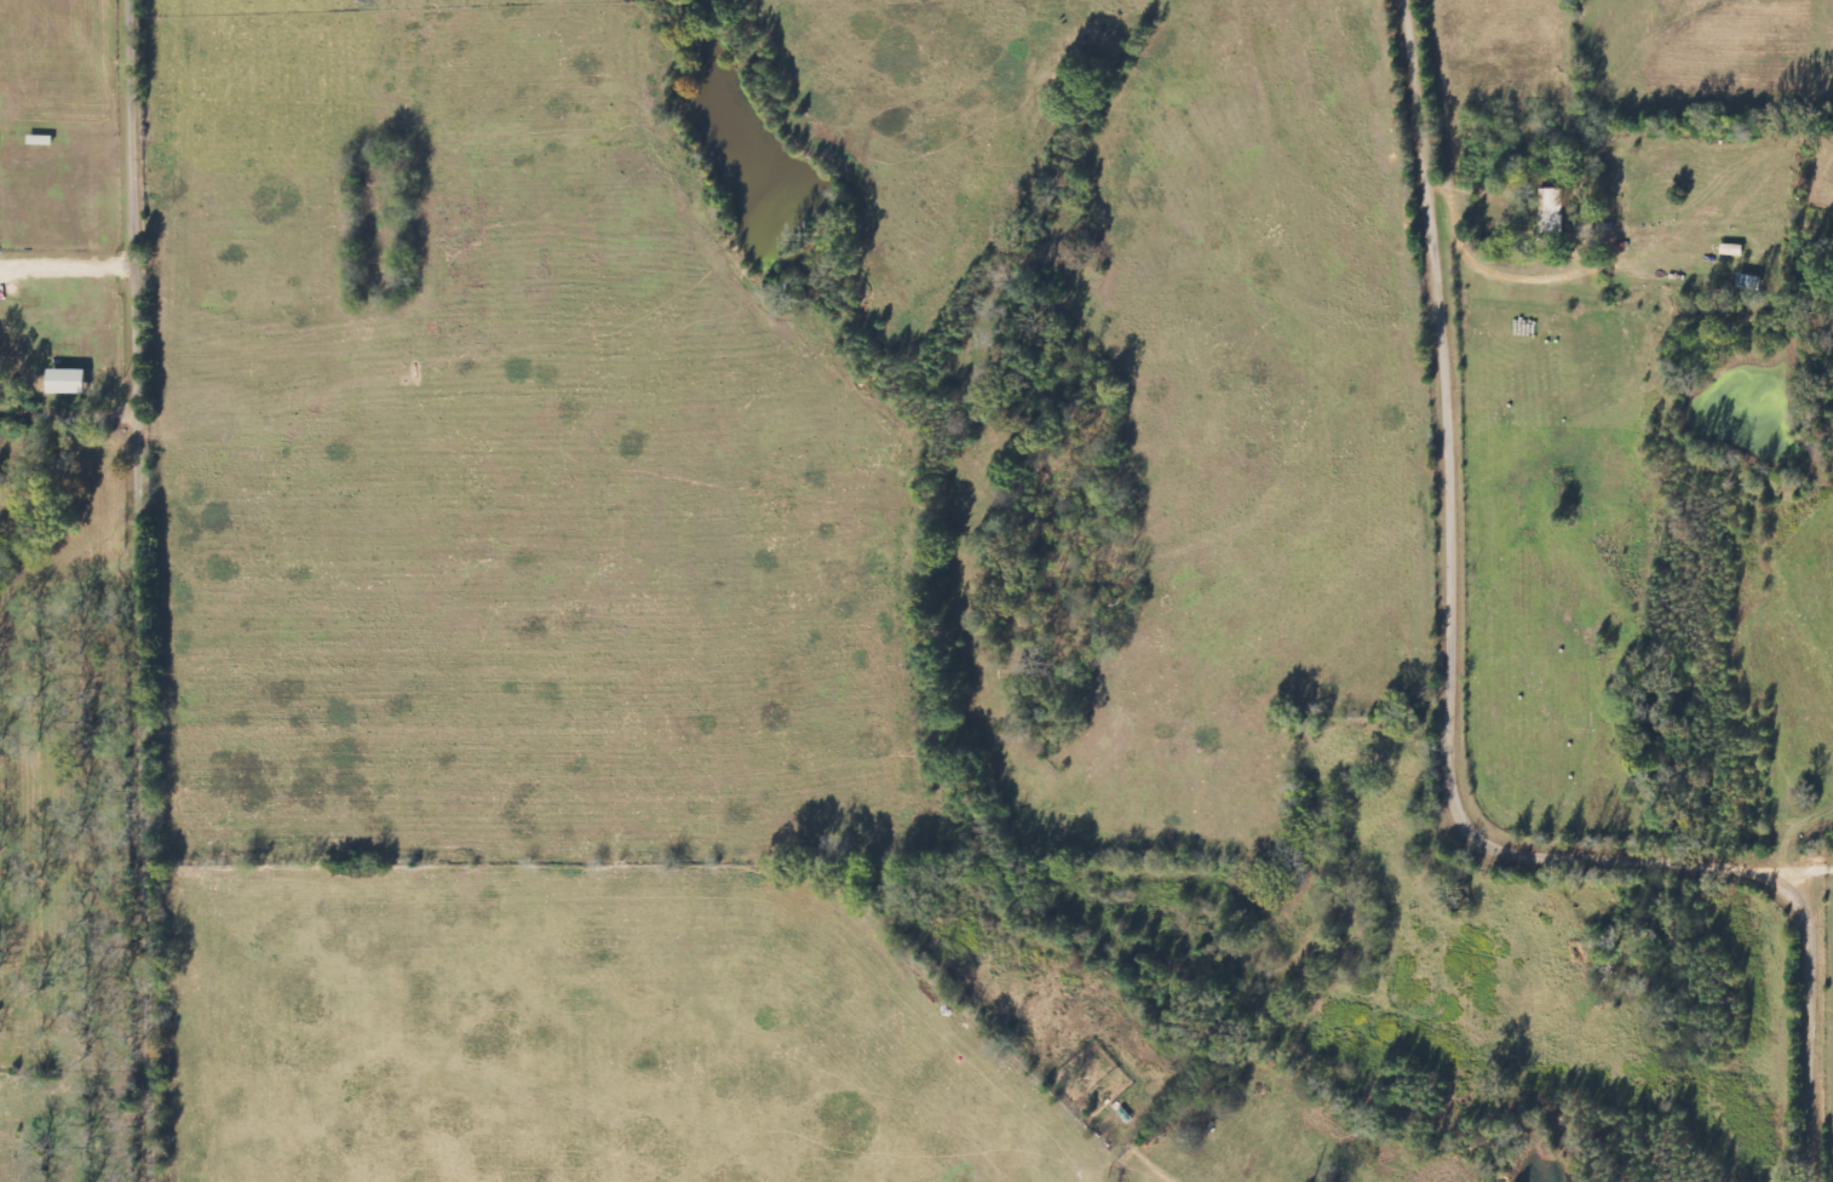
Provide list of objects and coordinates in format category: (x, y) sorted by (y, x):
road: (1638, 240)
building: (1733, 249)
road: (71, 262)
building: (71, 381)
road: (74, 412)
road: (150, 590)
road: (1458, 729)
road: (1818, 897)

